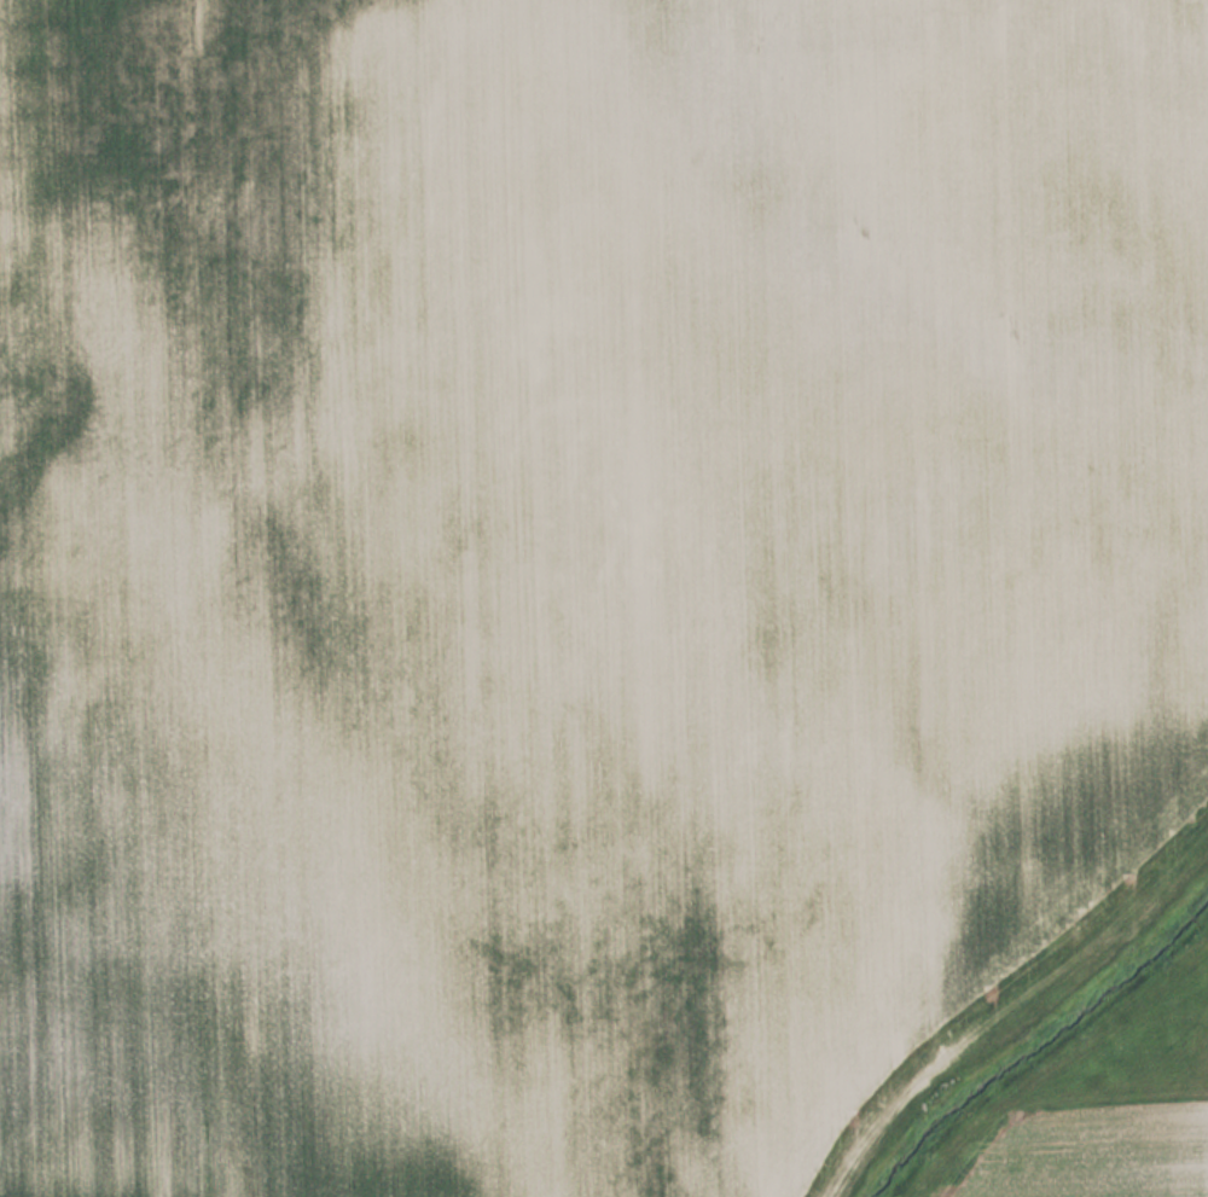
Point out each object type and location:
road: (1012, 1015)

